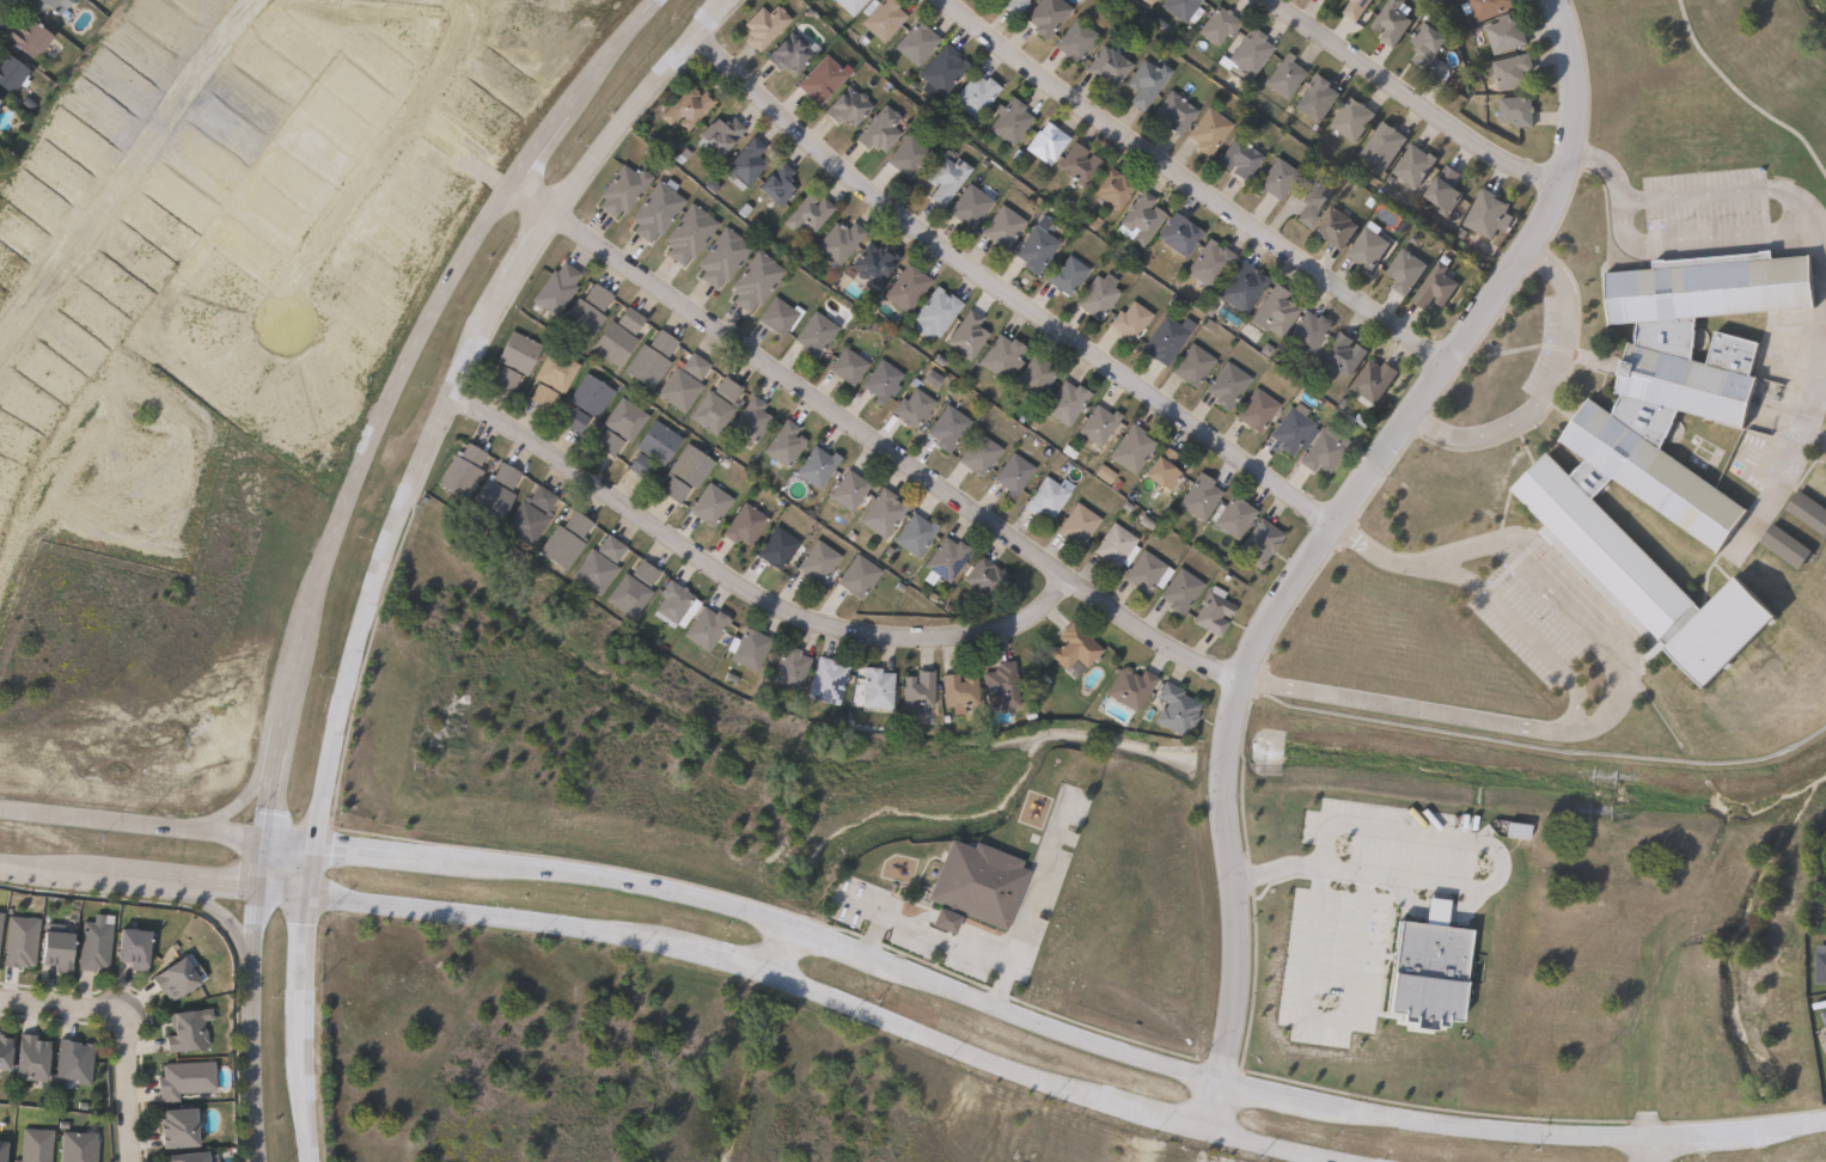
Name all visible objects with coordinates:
building: (999, 0)
building: (1324, 0)
building: (1325, 0)
building: (1146, 1)
building: (55, 5)
building: (848, 5)
building: (1012, 6)
building: (1178, 7)
building: (1355, 8)
building: (1486, 8)
building: (1044, 16)
building: (880, 17)
park: (1809, 18)
building: (1392, 22)
building: (1217, 24)
building: (762, 25)
building: (1504, 33)
building: (35, 38)
building: (1073, 39)
building: (914, 42)
building: (1425, 45)
building: (1247, 53)
building: (787, 54)
building: (1106, 66)
building: (940, 71)
building: (13, 72)
building: (1510, 72)
building: (1283, 75)
building: (818, 78)
building: (1143, 81)
building: (972, 93)
road: (1416, 94)
building: (1315, 98)
building: (2, 100)
road: (1741, 100)
building: (844, 105)
building: (685, 106)
building: (1172, 111)
building: (1515, 111)
building: (1351, 120)
building: (1008, 121)
building: (875, 129)
building: (1205, 130)
building: (715, 134)
road: (463, 141)
building: (1044, 142)
building: (1381, 145)
building: (1239, 155)
building: (905, 157)
building: (744, 161)
road: (378, 163)
building: (1076, 164)
building: (1412, 165)
road: (1600, 169)
road: (124, 171)
building: (942, 178)
building: (1274, 178)
road: (1198, 183)
building: (774, 184)
building: (1110, 186)
building: (619, 189)
building: (1443, 191)
road: (1714, 192)
building: (1311, 198)
building: (966, 204)
building: (653, 209)
building: (806, 213)
building: (1484, 214)
building: (1138, 218)
building: (1000, 227)
building: (1335, 227)
building: (686, 233)
building: (1177, 233)
road: (1693, 234)
building: (836, 241)
building: (1033, 249)
building: (1368, 249)
road: (1819, 249)
building: (720, 257)
building: (1208, 263)
building: (868, 264)
building: (1405, 271)
building: (1063, 275)
building: (752, 281)
road: (1004, 286)
building: (904, 287)
building: (1241, 287)
building: (1435, 287)
building: (552, 288)
building: (1095, 294)
building: (1274, 310)
building: (934, 311)
building: (582, 313)
building: (777, 316)
building: (1128, 322)
building: (1306, 332)
building: (615, 334)
building: (812, 334)
building: (965, 335)
building: (1165, 340)
building: (515, 353)
building: (1344, 354)
building: (1000, 356)
building: (647, 359)
building: (1191, 365)
building: (844, 366)
building: (554, 371)
building: (1033, 377)
building: (503, 378)
building: (879, 380)
building: (1372, 381)
building: (679, 383)
building: (1226, 385)
road: (1545, 386)
building: (726, 389)
building: (539, 396)
building: (588, 396)
building: (1064, 402)
building: (911, 408)
building: (1254, 410)
building: (708, 412)
building: (572, 420)
building: (622, 420)
building: (747, 421)
building: (1097, 424)
building: (946, 429)
building: (1289, 430)
road: (869, 433)
building: (605, 442)
building: (655, 442)
road: (1797, 442)
building: (781, 444)
building: (1129, 448)
building: (1320, 452)
building: (977, 454)
building: (688, 465)
building: (637, 466)
building: (814, 466)
building: (1160, 470)
building: (459, 471)
building: (1633, 471)
building: (1012, 475)
building: (672, 489)
building: (847, 489)
building: (491, 494)
building: (1046, 496)
building: (1197, 497)
building: (708, 504)
building: (1808, 512)
building: (879, 513)
building: (527, 516)
building: (1232, 516)
building: (741, 525)
building: (1076, 525)
building: (912, 534)
road: (389, 537)
road: (330, 539)
road: (1323, 539)
building: (562, 540)
building: (1259, 542)
building: (1112, 546)
building: (1784, 546)
building: (774, 548)
building: (942, 559)
building: (816, 563)
building: (597, 564)
building: (1144, 573)
building: (856, 576)
building: (983, 577)
road: (746, 587)
building: (630, 588)
building: (1179, 591)
building: (671, 601)
building: (1211, 612)
building: (703, 629)
building: (1071, 648)
building: (749, 649)
building: (787, 669)
building: (824, 681)
building: (1001, 684)
building: (874, 689)
building: (1129, 689)
building: (915, 692)
building: (957, 692)
road: (1617, 699)
building: (1173, 709)
road: (230, 803)
road: (128, 821)
road: (1415, 831)
road: (1354, 870)
road: (127, 877)
building: (977, 887)
road: (209, 907)
building: (1825, 918)
building: (2, 928)
building: (24, 941)
road: (939, 941)
road: (777, 942)
building: (85, 946)
building: (141, 947)
building: (1820, 967)
building: (183, 977)
road: (807, 983)
road: (60, 1005)
road: (1036, 1011)
building: (1824, 1019)
road: (1324, 1021)
building: (184, 1029)
building: (0, 1032)
building: (8, 1052)
building: (38, 1057)
building: (78, 1063)
building: (182, 1078)
road: (121, 1088)
building: (171, 1126)
road: (1648, 1144)
building: (39, 1145)
building: (81, 1146)
building: (6, 1151)
building: (181, 1156)

